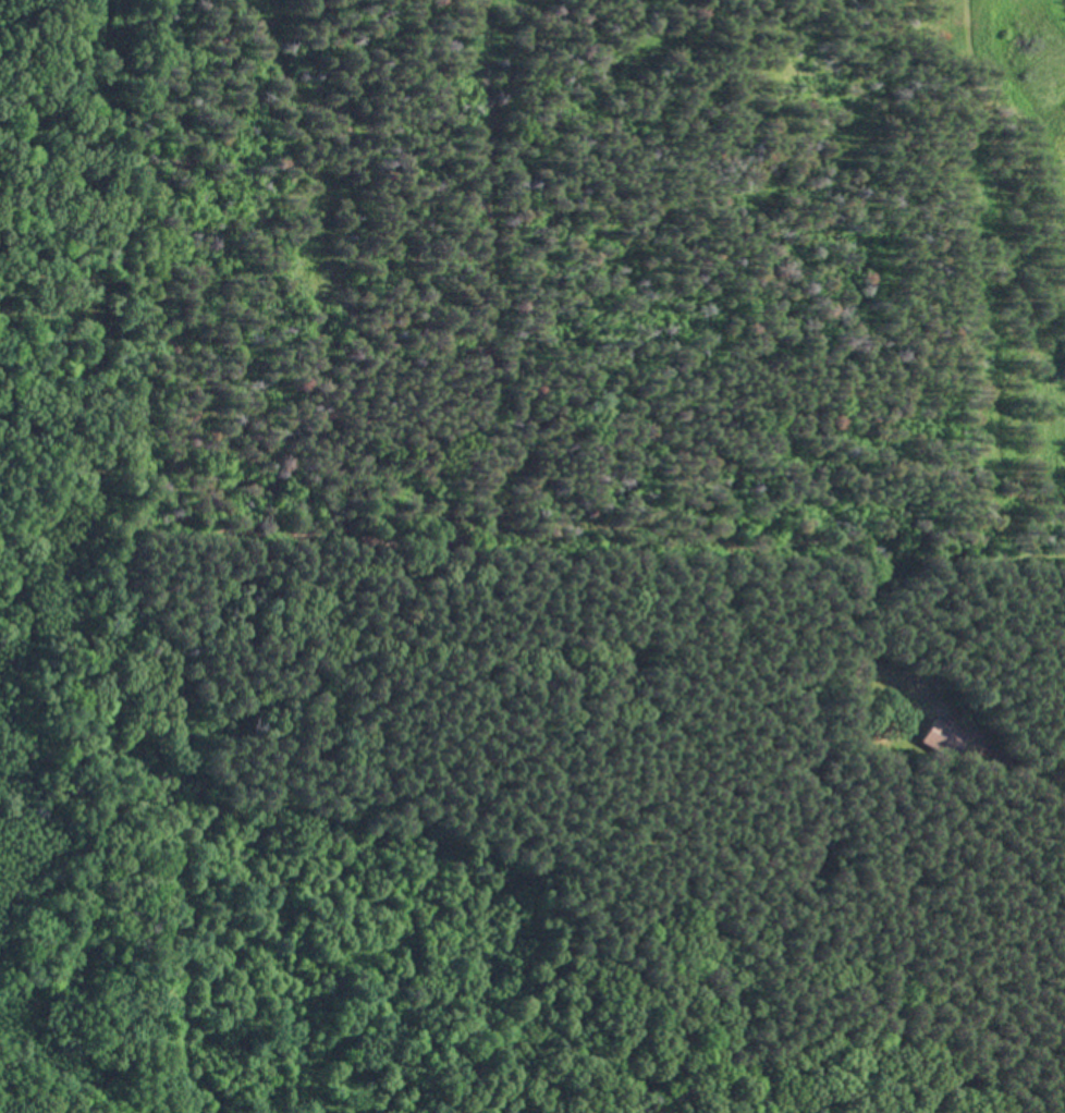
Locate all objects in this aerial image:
building: (940, 739)

